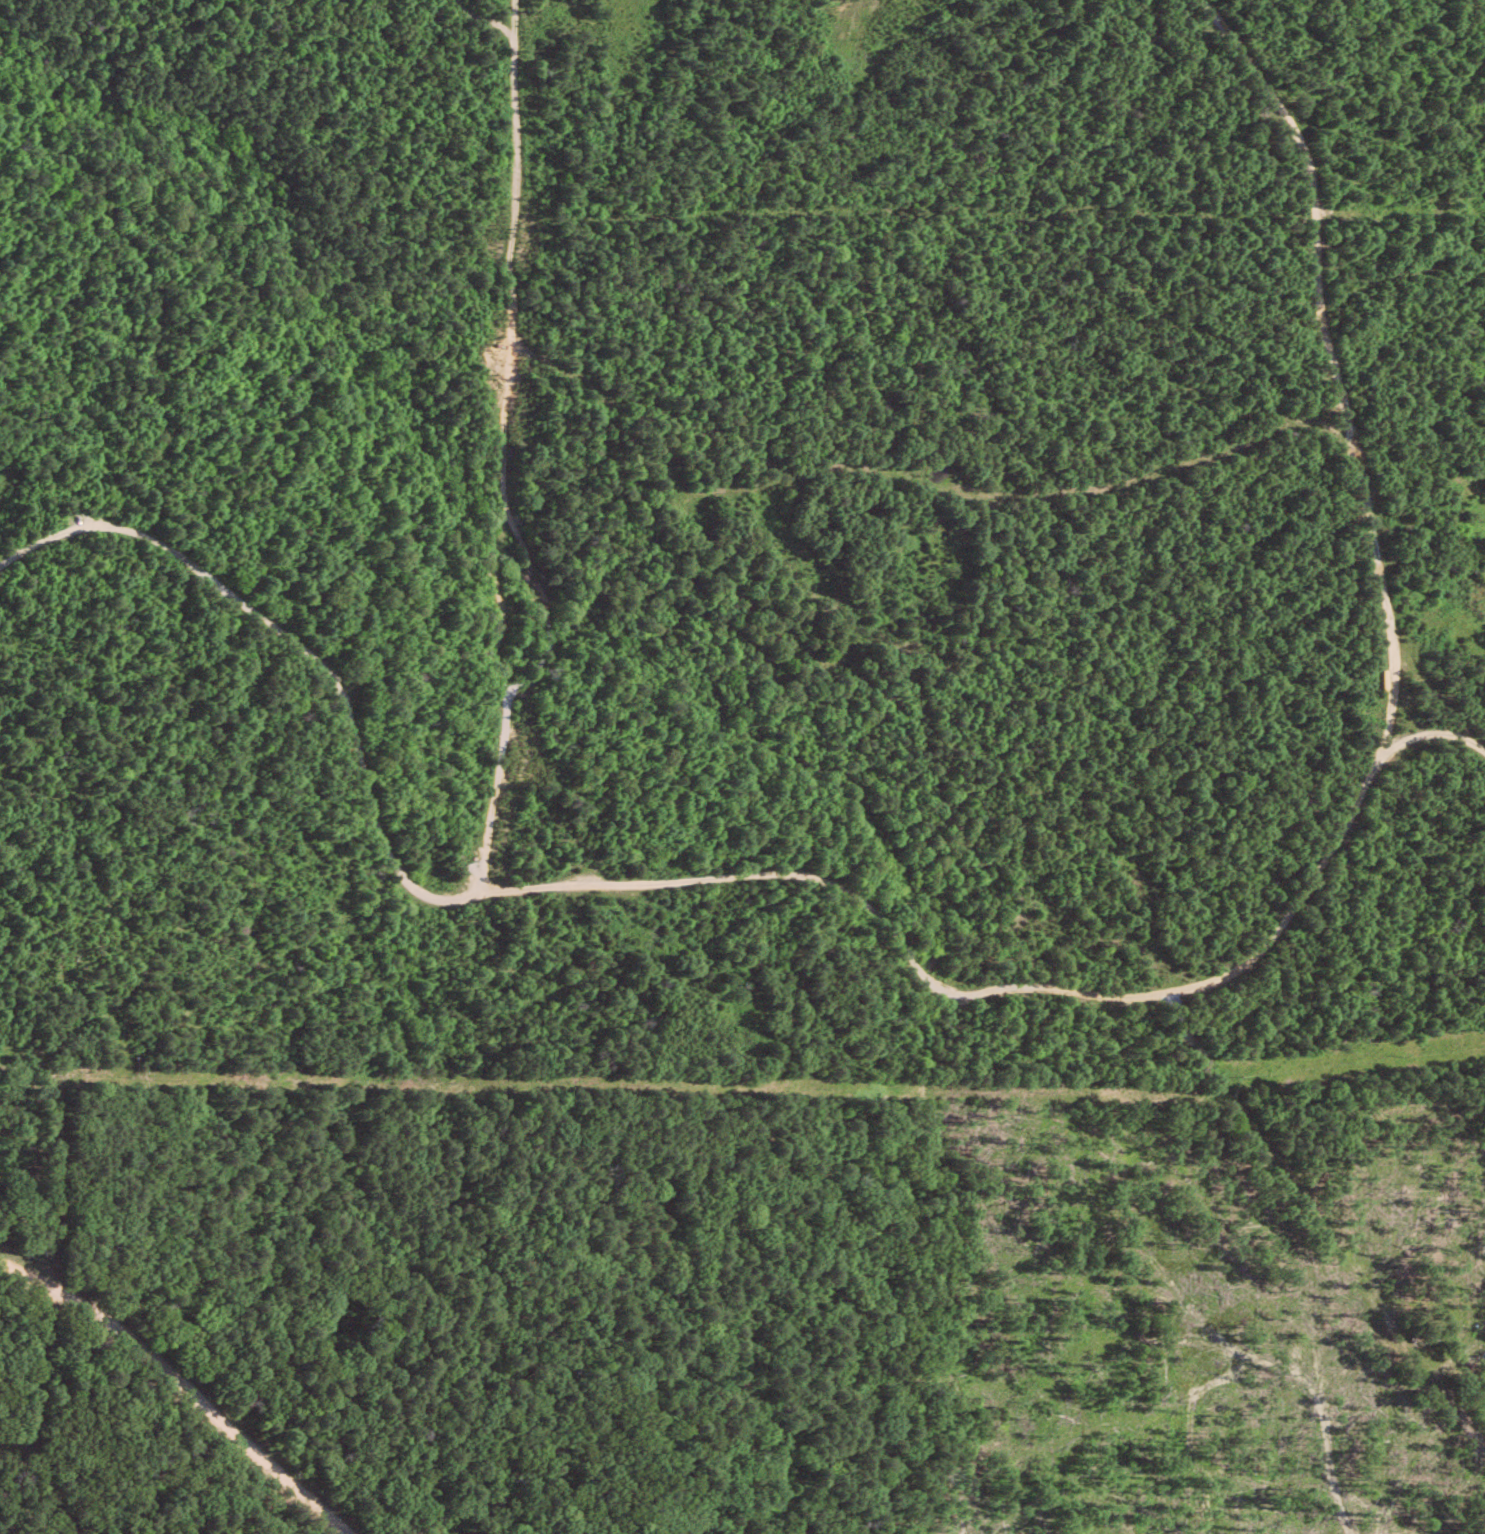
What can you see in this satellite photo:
road: (1021, 494)
road: (1435, 696)
road: (1013, 989)
road: (179, 1385)
road: (36, 1413)

